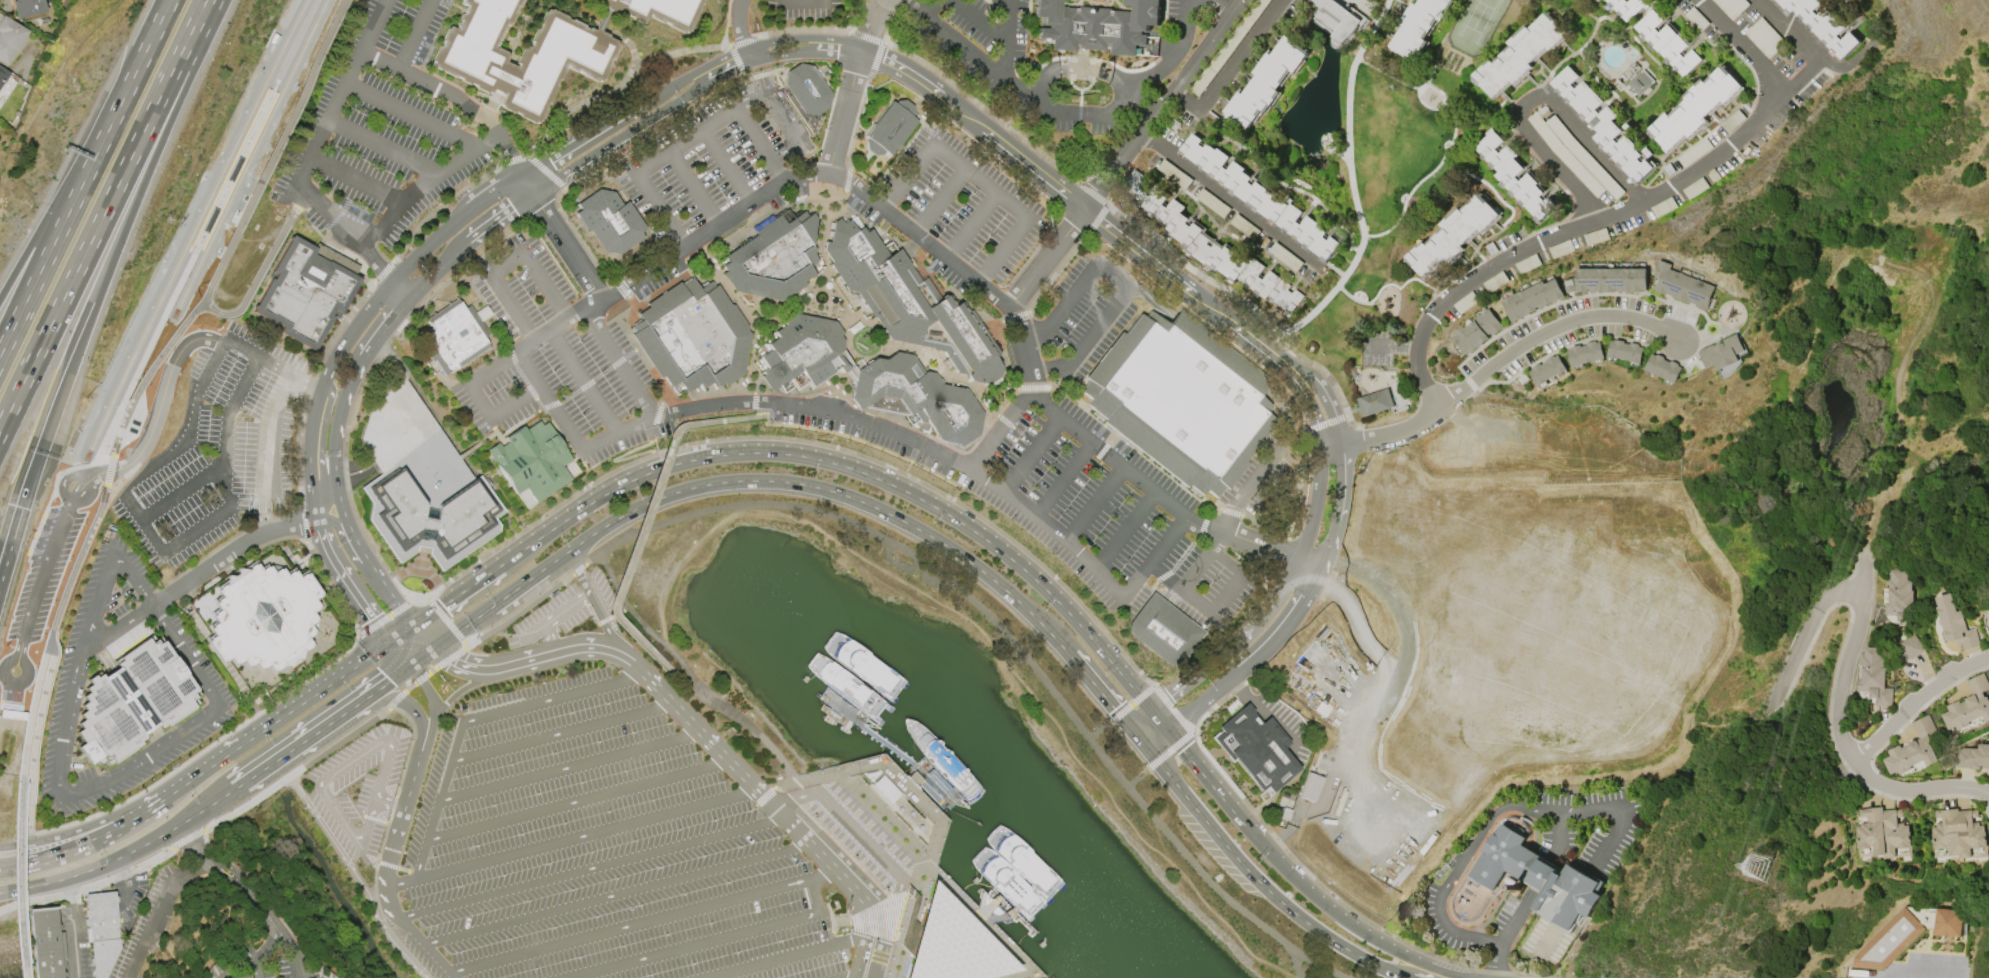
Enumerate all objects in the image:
road: (1225, 3)
road: (928, 5)
building: (1626, 7)
building: (30, 9)
building: (656, 11)
parking lot: (803, 14)
building: (1334, 18)
road: (982, 22)
building: (1096, 23)
building: (1823, 24)
road: (870, 25)
building: (1420, 26)
road: (739, 32)
road: (412, 35)
building: (9, 39)
road: (1006, 39)
building: (1668, 43)
road: (966, 48)
road: (144, 53)
road: (1173, 53)
building: (520, 54)
building: (1520, 54)
road: (1824, 54)
road: (1227, 65)
road: (767, 74)
building: (3, 76)
building: (1264, 80)
road: (1040, 82)
building: (1640, 82)
building: (806, 89)
road: (455, 100)
road: (1161, 105)
building: (1696, 109)
road: (786, 113)
road: (843, 113)
road: (414, 114)
road: (610, 121)
building: (1604, 125)
parking lot: (383, 127)
building: (890, 128)
road: (1575, 129)
road: (322, 130)
road: (617, 139)
road: (685, 141)
railway: (235, 144)
road: (760, 144)
road: (384, 147)
road: (153, 153)
parking lot: (713, 159)
railway: (248, 160)
road: (920, 161)
road: (1558, 166)
road: (726, 167)
road: (805, 174)
building: (1173, 175)
park: (1385, 176)
building: (1515, 176)
road: (607, 178)
road: (358, 179)
road: (847, 180)
road: (950, 182)
road: (429, 185)
road: (693, 189)
road: (1361, 194)
building: (1257, 197)
road: (58, 201)
road: (1233, 201)
road: (1013, 204)
road: (1613, 208)
road: (660, 211)
parking lot: (952, 211)
road: (1087, 212)
road: (102, 214)
building: (609, 221)
road: (59, 231)
road: (819, 231)
road: (239, 234)
building: (1453, 237)
building: (1206, 243)
railway: (201, 249)
building: (773, 257)
road: (1046, 259)
road: (379, 261)
road: (507, 262)
road: (1125, 278)
building: (1615, 279)
building: (1684, 286)
road: (400, 291)
building: (306, 292)
road: (593, 296)
building: (1531, 299)
road: (1360, 300)
building: (907, 302)
road: (828, 307)
road: (782, 313)
road: (745, 315)
road: (844, 316)
road: (394, 318)
parking lot: (1078, 320)
road: (1549, 326)
road: (157, 329)
building: (1475, 332)
building: (693, 336)
building: (453, 337)
road: (532, 344)
road: (878, 350)
building: (1628, 351)
parking lot: (563, 352)
building: (802, 353)
building: (1585, 353)
building: (1725, 353)
road: (393, 358)
park: (1896, 358)
road: (518, 368)
building: (1666, 368)
road: (289, 369)
building: (1545, 370)
building: (851, 372)
road: (148, 375)
road: (944, 379)
road: (64, 380)
road: (582, 383)
road: (838, 383)
road: (320, 390)
road: (1007, 393)
road: (1023, 396)
building: (916, 397)
building: (1180, 400)
road: (161, 401)
building: (1375, 402)
road: (500, 413)
road: (745, 418)
road: (338, 420)
road: (865, 425)
road: (322, 435)
road: (1286, 435)
road: (268, 437)
road: (1381, 437)
building: (412, 445)
parking lot: (412, 445)
road: (222, 451)
traffic signals: (38, 455)
road: (913, 455)
road: (1033, 455)
road: (174, 456)
parking lot: (206, 460)
building: (531, 461)
road: (108, 472)
road: (901, 480)
road: (1064, 480)
road: (885, 483)
road: (815, 487)
road: (182, 490)
road: (1163, 500)
parking lot: (1071, 502)
road: (1095, 506)
road: (98, 508)
road: (248, 508)
road: (17, 513)
road: (330, 517)
building: (430, 518)
road: (264, 521)
road: (606, 526)
road: (1126, 532)
railway: (59, 536)
road: (353, 536)
road: (525, 548)
road: (633, 549)
road: (1185, 553)
road: (578, 563)
road: (897, 564)
road: (194, 576)
road: (1289, 576)
road: (524, 583)
road: (347, 584)
road: (956, 588)
road: (1227, 591)
road: (388, 592)
road: (1308, 593)
road: (455, 596)
building: (1900, 596)
traffic signals: (442, 606)
road: (595, 608)
road: (611, 616)
road: (388, 617)
road: (555, 617)
parking lot: (549, 618)
road: (1034, 618)
traffic signals: (372, 620)
building: (264, 622)
road: (446, 622)
building: (1954, 624)
building: (1162, 631)
road: (401, 635)
road: (423, 638)
road: (549, 639)
road: (1801, 639)
road: (445, 641)
road: (615, 643)
building: (1912, 646)
road: (45, 650)
road: (569, 650)
road: (400, 655)
road: (422, 658)
road: (449, 658)
traffic signals: (455, 663)
road: (633, 665)
road: (468, 667)
parking lot: (199, 668)
road: (432, 670)
road: (689, 674)
road: (421, 678)
building: (1875, 678)
traffic signals: (390, 682)
road: (387, 683)
road: (410, 687)
road: (465, 688)
road: (1100, 693)
road: (696, 694)
traffic signals: (1169, 697)
road: (307, 700)
road: (396, 700)
road: (1915, 701)
building: (133, 702)
road: (431, 703)
road: (406, 704)
building: (1969, 705)
traffic signals: (1114, 710)
road: (1173, 712)
road: (1270, 713)
road: (1364, 718)
road: (472, 720)
road: (1140, 720)
road: (1838, 728)
road: (1099, 731)
road: (563, 732)
road: (699, 732)
road: (875, 737)
road: (1138, 739)
road: (37, 740)
road: (300, 743)
building: (1255, 749)
building: (1913, 749)
traffic signals: (1182, 750)
pier: (899, 756)
building: (1973, 757)
road: (571, 767)
road: (842, 772)
road: (921, 776)
road: (114, 777)
road: (1136, 778)
road: (193, 779)
road: (352, 782)
road: (907, 785)
parking lot: (359, 789)
road: (765, 796)
road: (374, 797)
road: (933, 798)
road: (578, 800)
road: (388, 803)
road: (208, 806)
road: (403, 808)
road: (1498, 808)
road: (363, 817)
road: (937, 823)
road: (93, 825)
road: (891, 825)
road: (202, 830)
road: (858, 834)
building: (1882, 834)
road: (1561, 835)
building: (1958, 835)
parking lot: (861, 837)
road: (803, 838)
road: (570, 839)
road: (84, 843)
road: (11, 845)
parking lot: (601, 850)
road: (1274, 860)
road: (107, 863)
road: (380, 863)
power tower: (1758, 867)
road: (224, 869)
road: (588, 869)
road: (1542, 873)
road: (357, 877)
building: (1541, 877)
road: (17, 878)
building: (1005, 883)
road: (1263, 887)
chimney: (1519, 887)
road: (14, 889)
pier: (933, 890)
road: (14, 892)
road: (616, 895)
road: (386, 897)
road: (861, 898)
road: (958, 899)
pier: (992, 909)
road: (984, 910)
road: (160, 915)
road: (997, 918)
road: (831, 920)
road: (875, 921)
road: (641, 922)
road: (841, 922)
building: (1947, 922)
road: (912, 924)
road: (74, 927)
road: (903, 928)
road: (870, 929)
road: (1508, 929)
road: (879, 931)
building: (102, 932)
road: (910, 939)
road: (711, 941)
building: (1888, 942)
building: (44, 943)
building: (951, 944)
road: (285, 946)
building: (24, 947)
road: (426, 947)
road: (254, 948)
road: (948, 950)
road: (1010, 951)
road: (786, 957)
road: (856, 957)
road: (875, 960)
road: (950, 964)
road: (1294, 964)
road: (1925, 972)
road: (849, 976)
building: (238, 977)

